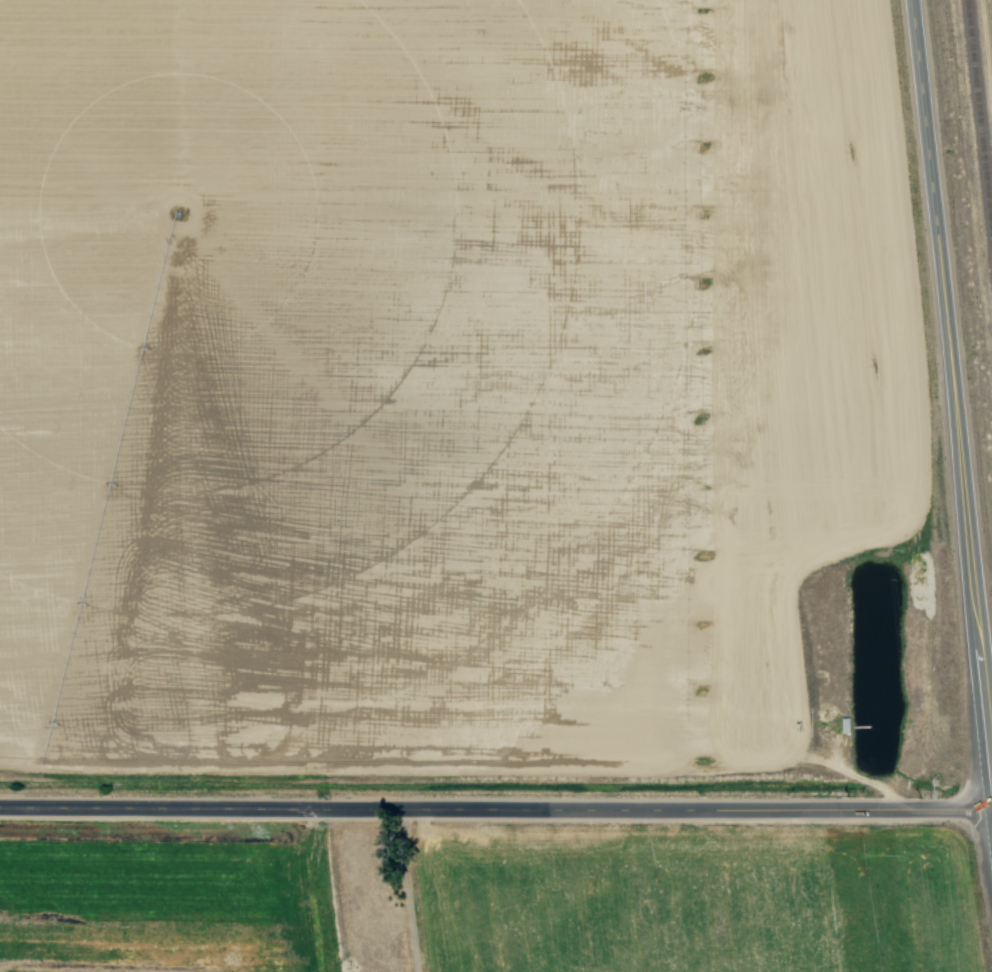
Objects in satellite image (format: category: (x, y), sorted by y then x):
railway: (980, 97)
road: (949, 409)
road: (991, 809)
road: (495, 811)

